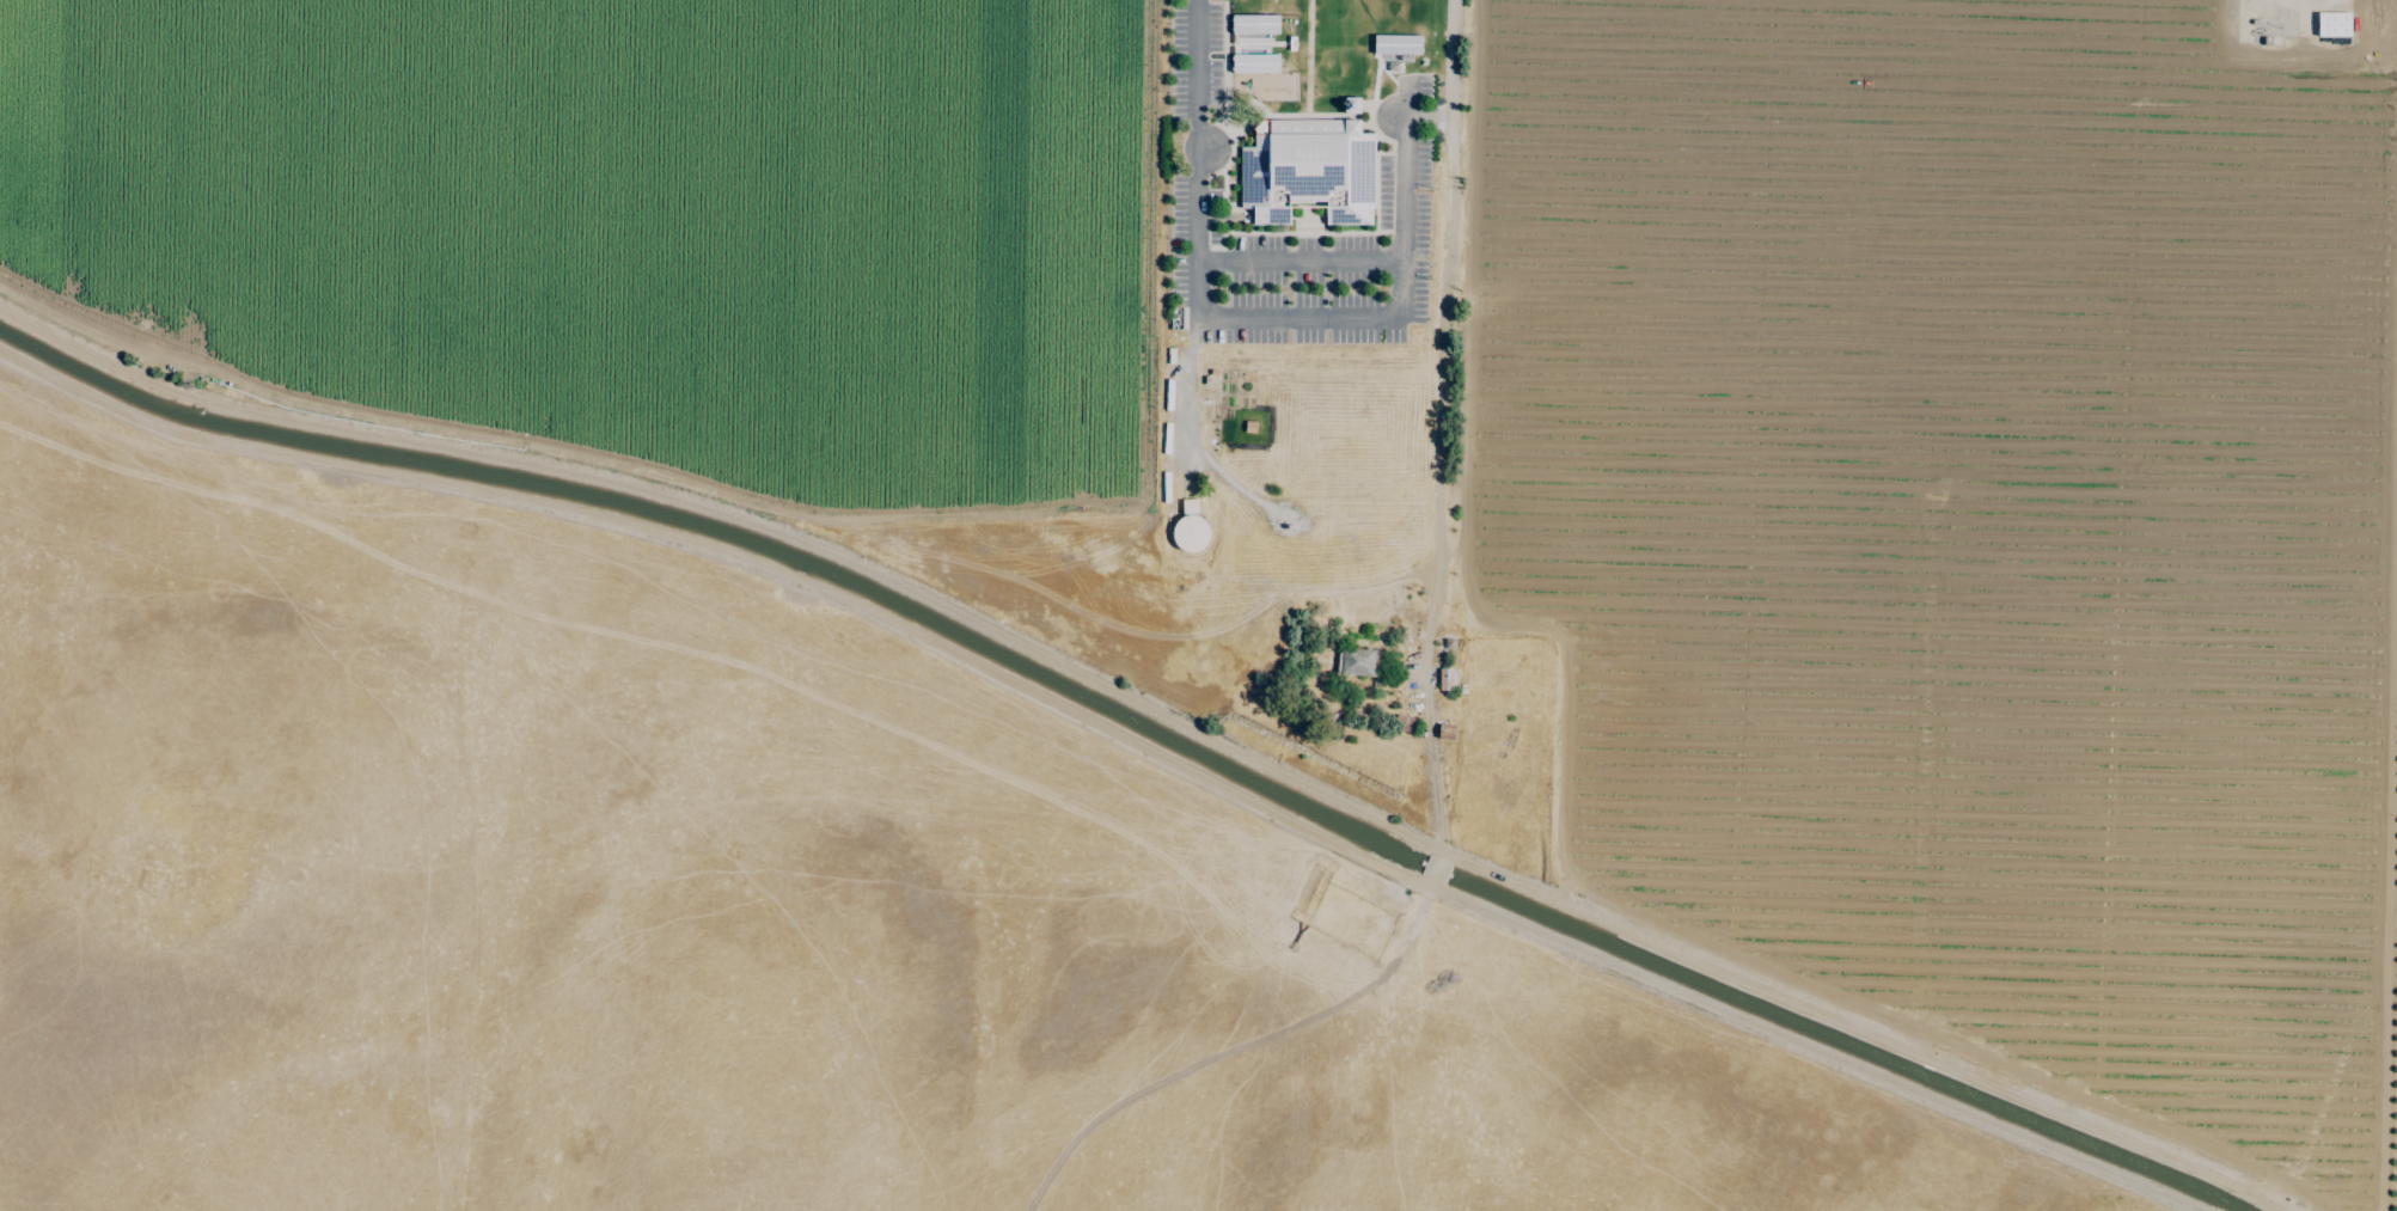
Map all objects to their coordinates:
building: (1254, 24)
building: (2332, 25)
building: (1395, 45)
road: (2313, 53)
building: (1254, 63)
road: (1199, 74)
road: (1302, 262)
road: (1445, 279)
road: (1339, 314)
crop: (1963, 525)
building: (1188, 528)
building: (1356, 662)
crop: (788, 669)
road: (1425, 705)
road: (1175, 722)

